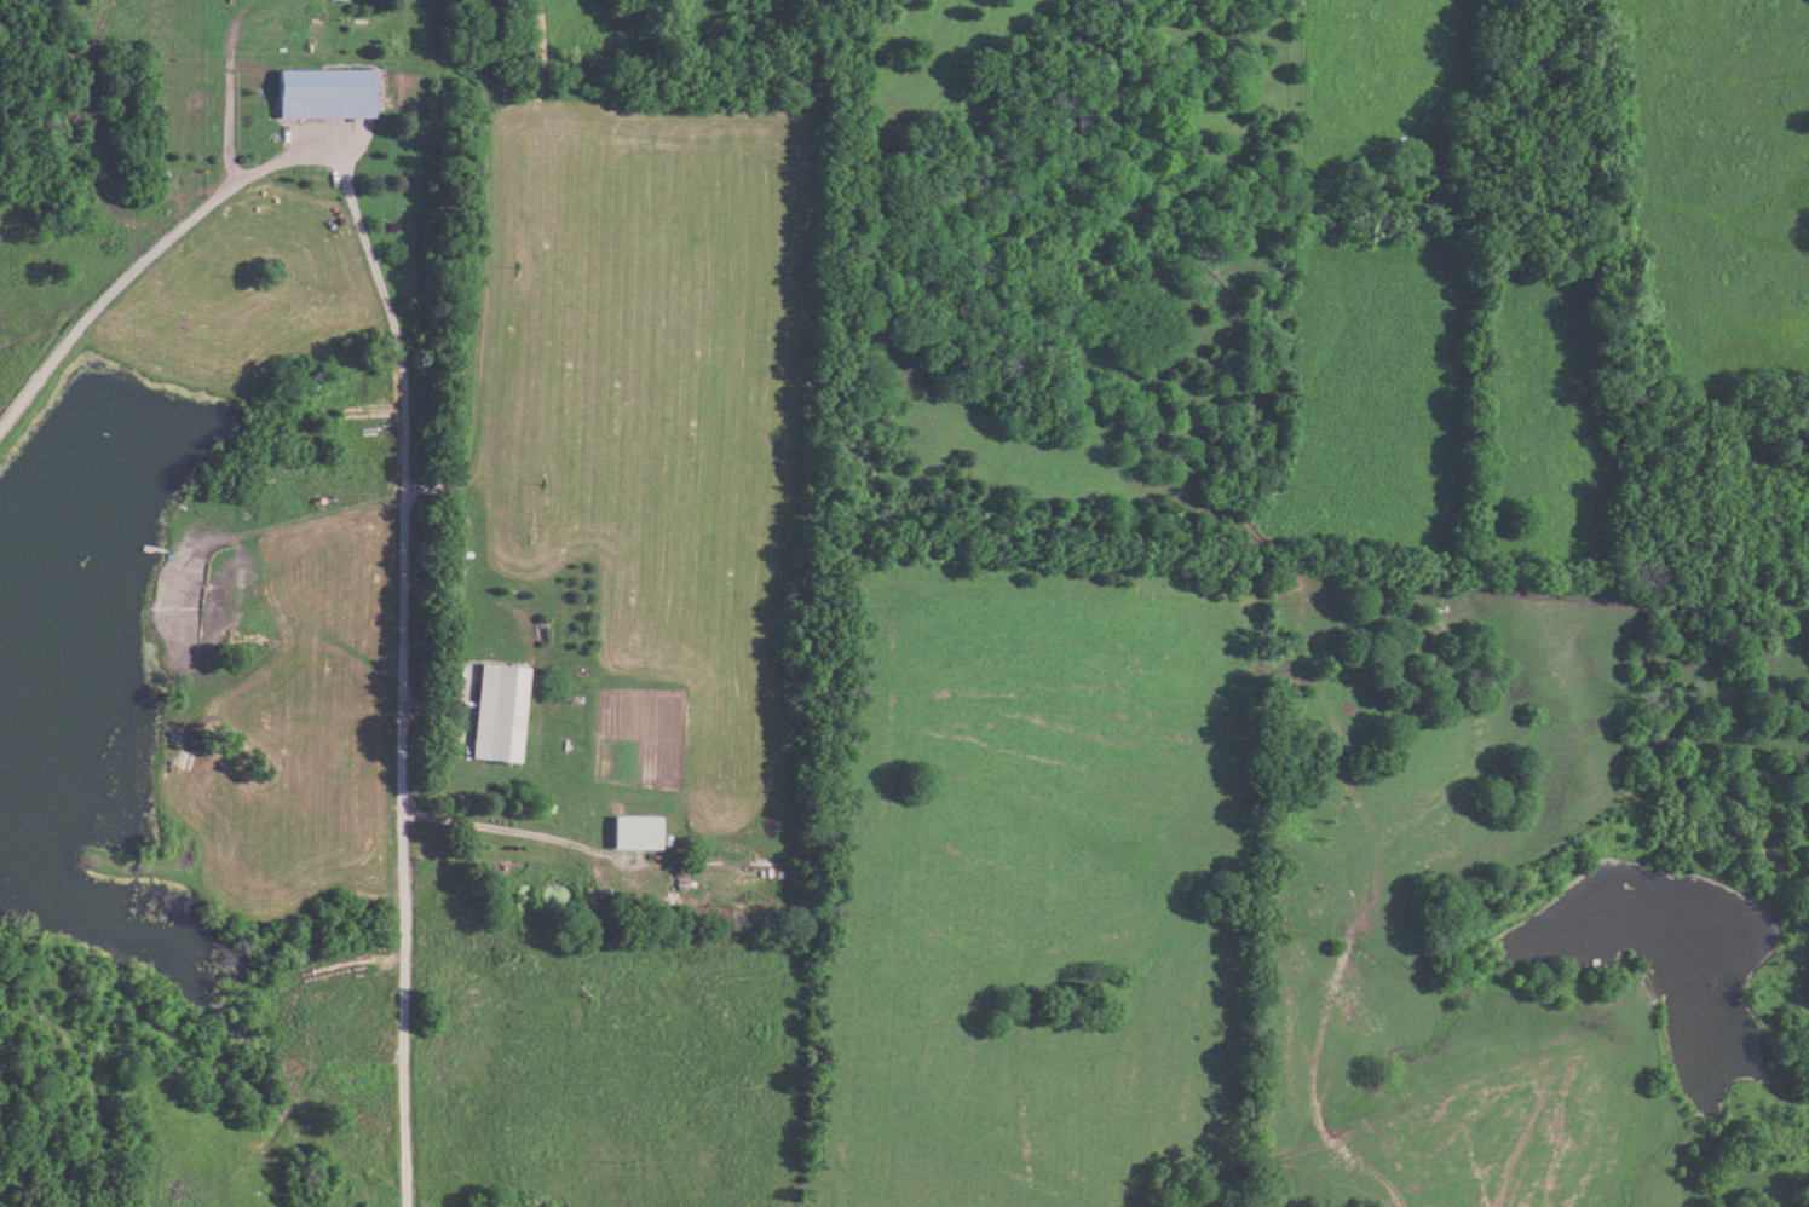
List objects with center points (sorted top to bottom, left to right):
building: (339, 0)
building: (330, 92)
road: (407, 664)
building: (502, 712)
road: (507, 832)
building: (641, 832)

